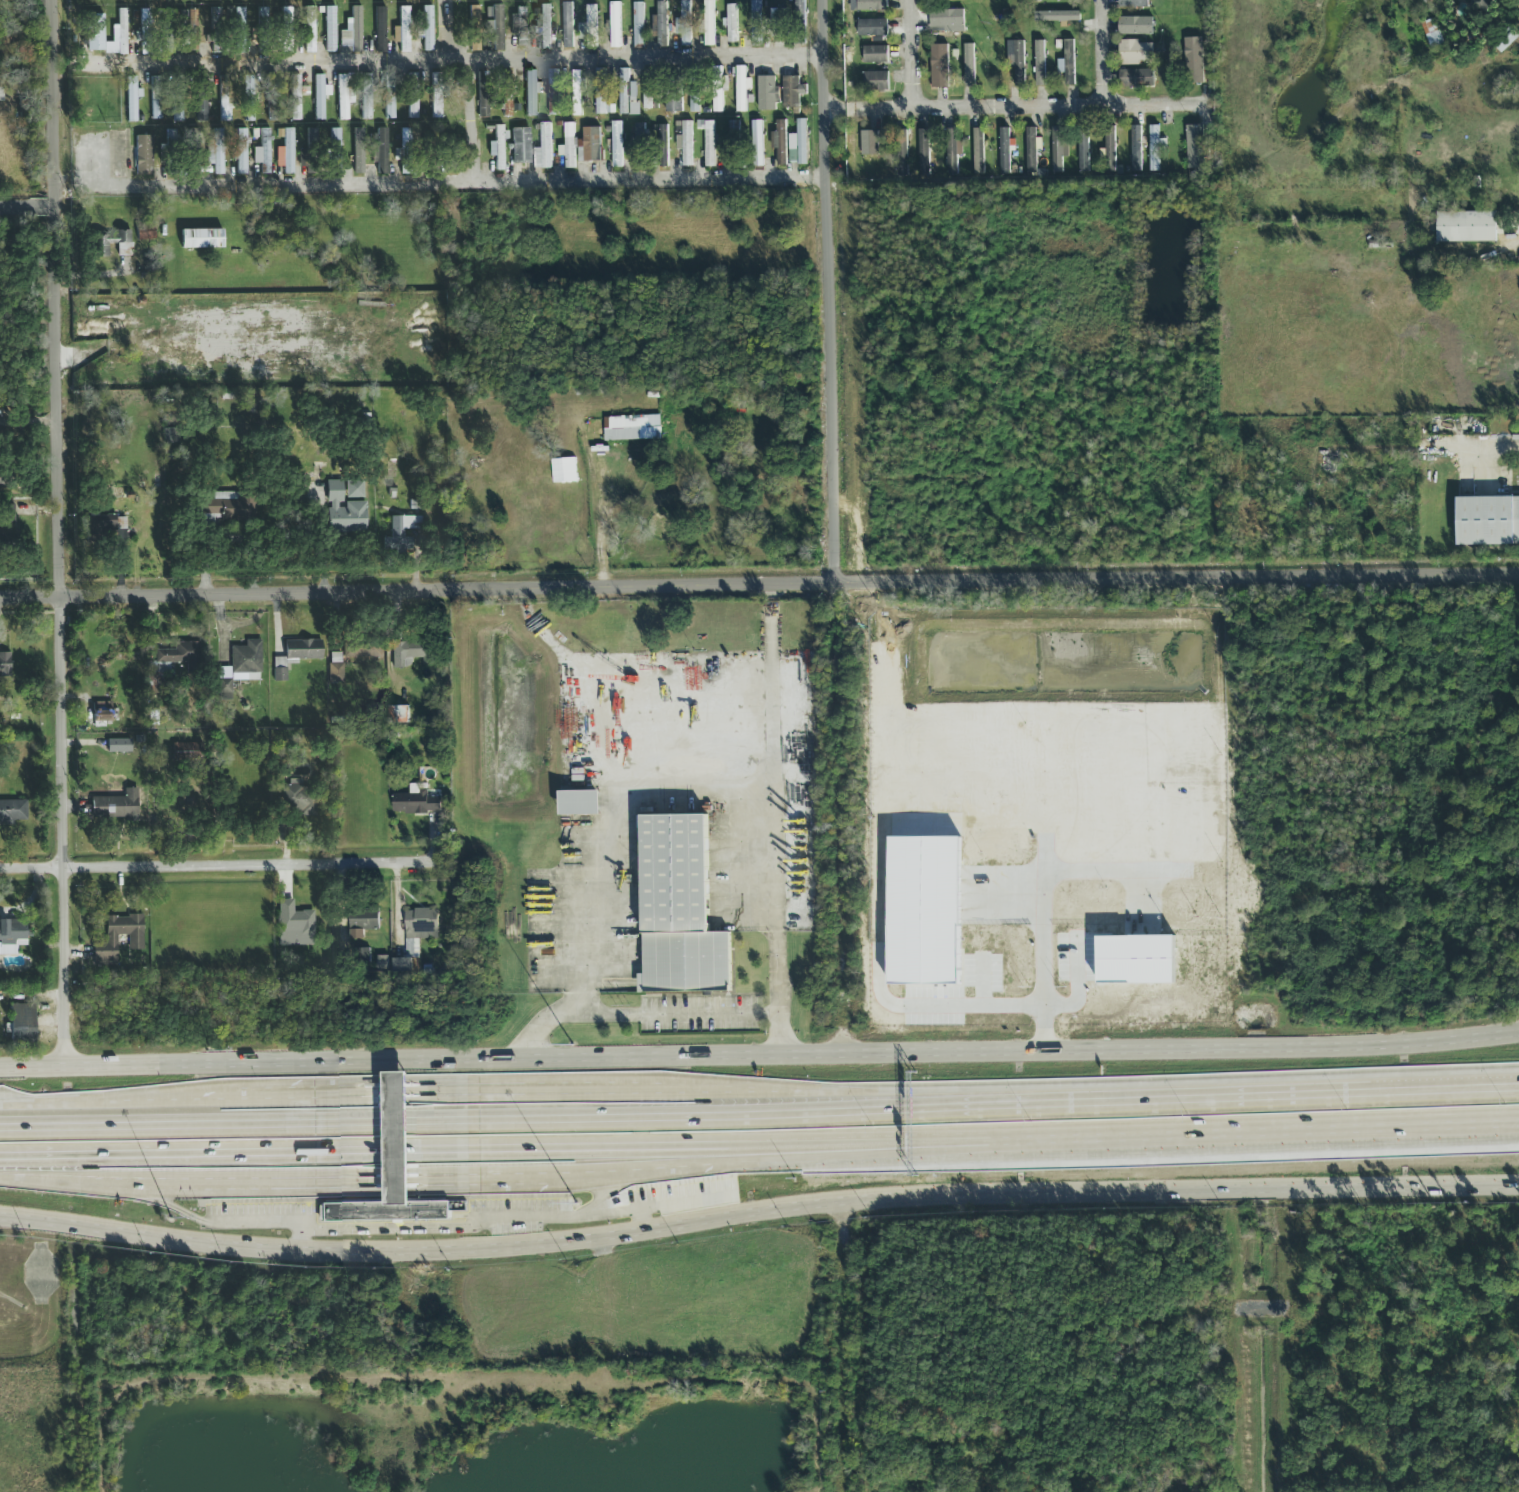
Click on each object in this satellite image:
building: (1062, 0)
building: (1428, 1)
building: (1134, 4)
building: (1481, 4)
building: (873, 5)
building: (800, 11)
building: (1057, 17)
building: (947, 18)
building: (755, 23)
building: (779, 23)
building: (638, 24)
building: (663, 24)
building: (684, 24)
building: (709, 24)
building: (732, 24)
building: (616, 25)
building: (523, 26)
building: (545, 26)
building: (568, 26)
building: (1136, 26)
building: (592, 27)
building: (701, 27)
building: (428, 28)
building: (475, 28)
building: (498, 28)
building: (873, 28)
building: (217, 29)
building: (240, 29)
building: (263, 29)
building: (287, 29)
building: (311, 29)
building: (331, 29)
building: (357, 29)
building: (381, 29)
building: (405, 29)
building: (1432, 29)
road: (447, 30)
building: (95, 31)
building: (195, 31)
building: (147, 32)
building: (119, 35)
building: (1505, 39)
road: (1104, 53)
building: (1136, 53)
building: (875, 54)
road: (913, 55)
road: (450, 60)
building: (1194, 61)
building: (1070, 63)
building: (1019, 64)
building: (1040, 64)
building: (940, 66)
building: (969, 66)
building: (483, 77)
building: (1136, 79)
building: (876, 82)
building: (742, 89)
building: (718, 90)
building: (648, 91)
building: (531, 92)
building: (625, 92)
building: (792, 92)
building: (507, 93)
building: (553, 93)
building: (577, 93)
building: (601, 93)
building: (694, 93)
building: (767, 93)
building: (1, 94)
building: (391, 95)
building: (413, 95)
building: (438, 95)
building: (366, 96)
building: (157, 97)
building: (273, 97)
building: (296, 97)
building: (320, 97)
building: (343, 97)
building: (132, 98)
building: (202, 98)
building: (226, 98)
building: (249, 98)
road: (54, 103)
building: (483, 103)
road: (997, 108)
building: (91, 112)
building: (177, 114)
road: (469, 121)
building: (171, 136)
building: (312, 137)
building: (335, 140)
building: (782, 142)
building: (803, 142)
building: (641, 143)
building: (687, 143)
building: (591, 144)
building: (710, 144)
building: (759, 144)
building: (870, 144)
building: (521, 145)
building: (617, 145)
building: (735, 145)
building: (547, 146)
building: (570, 146)
building: (663, 146)
building: (454, 147)
building: (500, 147)
building: (1195, 147)
building: (287, 149)
building: (1111, 149)
building: (1137, 149)
building: (1155, 149)
building: (406, 150)
building: (1058, 150)
building: (1084, 150)
building: (242, 151)
building: (359, 151)
building: (383, 151)
building: (952, 151)
building: (979, 151)
building: (1005, 151)
building: (1031, 151)
building: (194, 152)
building: (217, 152)
building: (263, 152)
building: (903, 153)
building: (924, 153)
building: (144, 155)
building: (304, 158)
road: (458, 183)
road: (27, 210)
building: (1466, 227)
building: (146, 232)
building: (202, 238)
building: (115, 243)
road: (828, 291)
building: (630, 429)
road: (1483, 444)
building: (7, 474)
building: (354, 489)
building: (215, 508)
building: (342, 509)
building: (7, 514)
building: (1487, 521)
building: (107, 523)
building: (403, 526)
road: (759, 583)
road: (59, 636)
building: (365, 653)
building: (412, 653)
building: (178, 655)
building: (296, 655)
building: (5, 664)
building: (164, 667)
building: (240, 667)
building: (336, 667)
building: (102, 713)
building: (398, 715)
building: (119, 745)
building: (187, 751)
road: (647, 771)
building: (299, 799)
building: (578, 803)
building: (416, 804)
building: (116, 805)
building: (13, 811)
road: (220, 865)
building: (678, 909)
building: (364, 920)
building: (421, 920)
building: (295, 925)
building: (13, 929)
building: (135, 938)
building: (363, 957)
building: (403, 966)
road: (779, 994)
road: (667, 1015)
building: (23, 1023)
road: (547, 1024)
road: (760, 1058)
road: (435, 1092)
road: (1170, 1105)
road: (411, 1127)
toll booth: (398, 1128)
toll booth: (397, 1139)
road: (759, 1145)
toll booth: (398, 1152)
building: (389, 1171)
road: (558, 1176)
road: (757, 1216)
road: (1251, 1344)

